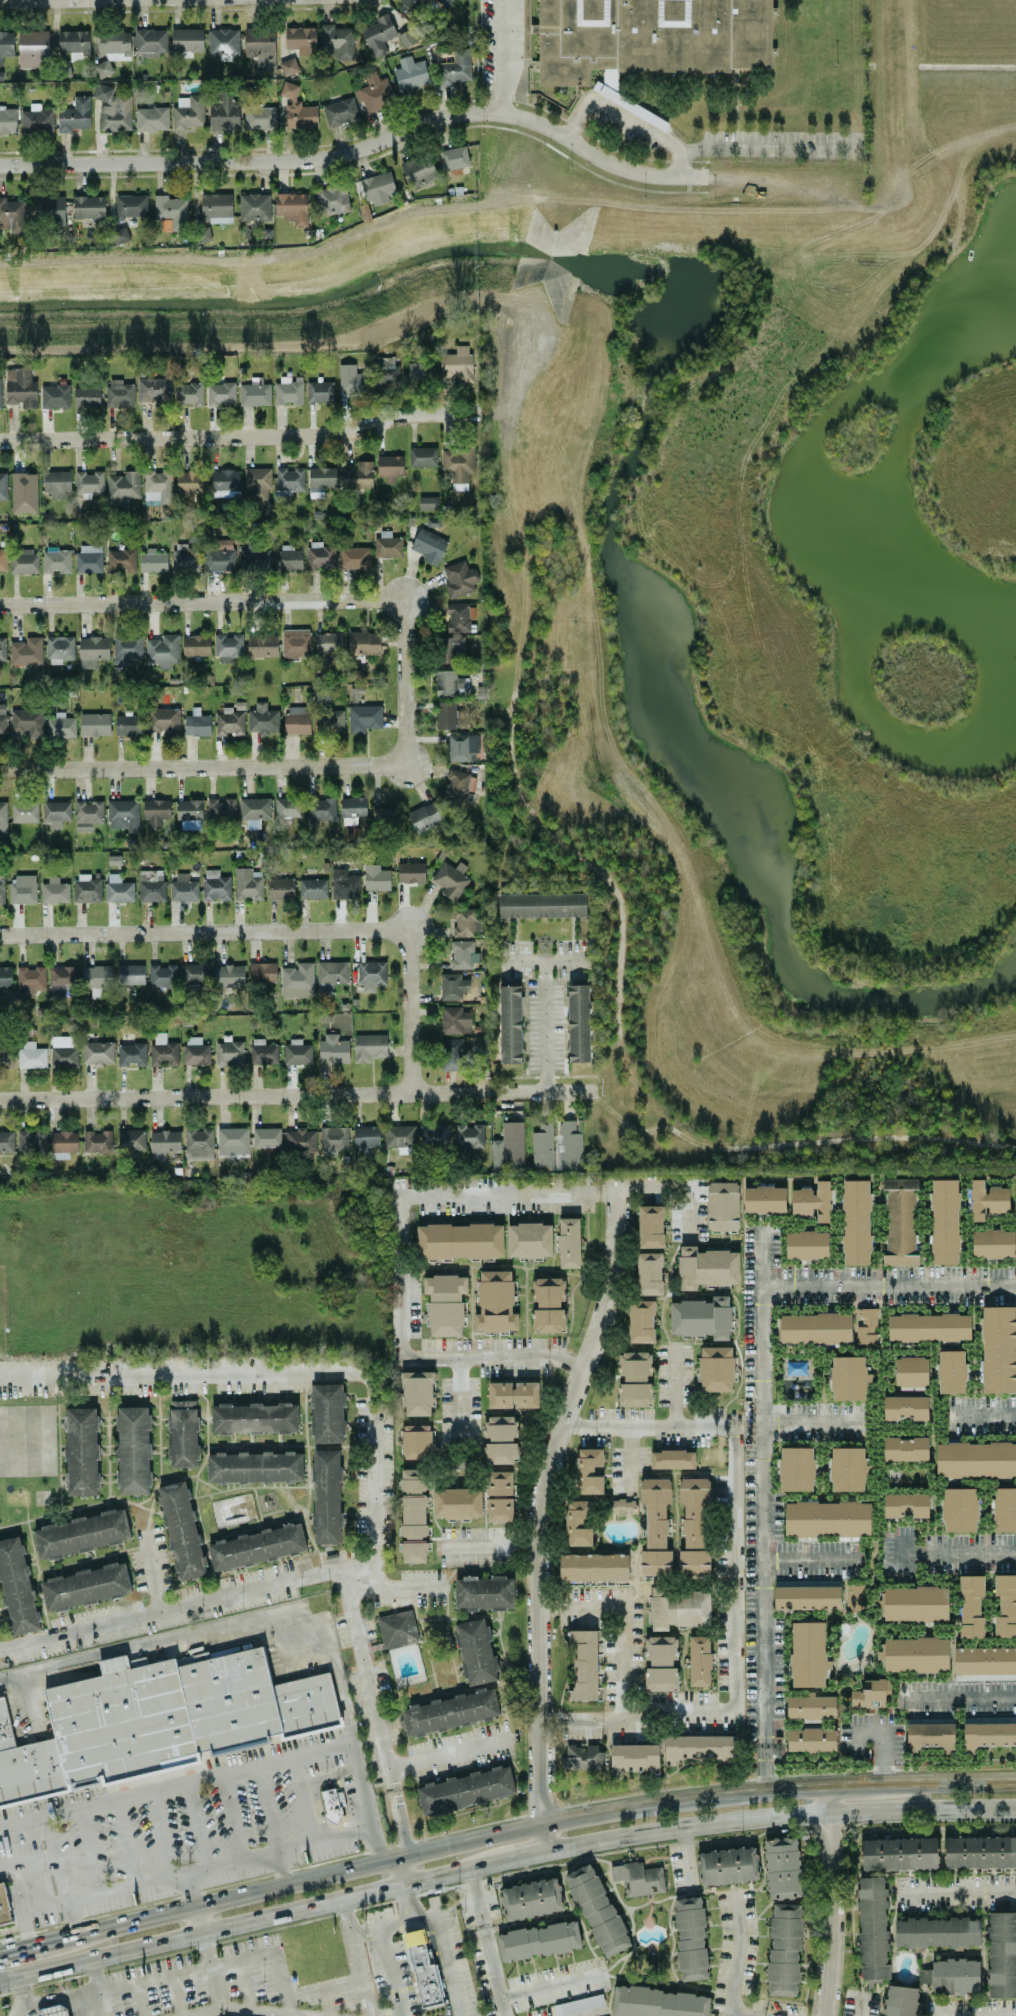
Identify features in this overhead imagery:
road: (21, 0)
building: (377, 34)
building: (406, 38)
building: (301, 40)
building: (646, 40)
building: (150, 41)
building: (186, 41)
building: (337, 42)
building: (74, 43)
building: (223, 43)
building: (6, 44)
building: (115, 46)
building: (33, 47)
building: (260, 47)
road: (501, 56)
building: (288, 66)
building: (103, 68)
building: (454, 68)
building: (410, 73)
building: (374, 92)
road: (736, 107)
building: (298, 108)
building: (113, 109)
building: (340, 111)
building: (188, 112)
building: (224, 113)
building: (74, 115)
road: (626, 117)
building: (259, 118)
building: (151, 119)
building: (8, 120)
building: (36, 121)
road: (772, 147)
road: (362, 148)
building: (454, 158)
building: (418, 170)
building: (378, 188)
building: (332, 199)
building: (131, 206)
building: (88, 207)
building: (254, 207)
building: (49, 208)
building: (216, 208)
building: (292, 208)
building: (171, 213)
building: (12, 215)
building: (457, 364)
building: (416, 369)
building: (386, 371)
building: (352, 379)
building: (20, 387)
building: (288, 389)
building: (154, 391)
building: (319, 391)
building: (119, 393)
building: (188, 393)
building: (255, 393)
building: (220, 394)
building: (0, 396)
building: (55, 396)
building: (87, 397)
road: (242, 437)
building: (422, 456)
building: (458, 465)
building: (389, 467)
building: (357, 475)
building: (320, 480)
building: (289, 481)
building: (89, 482)
building: (191, 482)
building: (56, 483)
building: (225, 483)
building: (257, 484)
building: (3, 486)
building: (157, 487)
building: (123, 488)
building: (24, 492)
building: (427, 503)
building: (387, 546)
building: (428, 546)
building: (219, 555)
building: (320, 555)
building: (89, 558)
building: (253, 558)
building: (287, 558)
building: (354, 558)
building: (2, 559)
building: (120, 559)
building: (185, 560)
building: (24, 561)
building: (56, 561)
building: (153, 561)
building: (458, 579)
road: (231, 603)
building: (457, 617)
building: (363, 643)
building: (295, 644)
building: (196, 645)
building: (261, 645)
building: (228, 647)
building: (326, 647)
building: (126, 648)
building: (450, 648)
building: (2, 649)
building: (59, 649)
building: (26, 651)
building: (92, 651)
building: (162, 651)
building: (448, 683)
building: (444, 715)
building: (364, 718)
building: (262, 719)
building: (296, 719)
building: (2, 720)
building: (162, 720)
building: (329, 721)
building: (27, 722)
building: (229, 722)
building: (196, 723)
building: (94, 724)
building: (128, 725)
building: (60, 726)
building: (462, 747)
road: (257, 768)
building: (288, 807)
building: (254, 808)
building: (220, 809)
building: (352, 809)
building: (24, 811)
building: (320, 811)
building: (56, 812)
building: (156, 812)
building: (189, 813)
building: (88, 814)
building: (123, 814)
building: (424, 816)
building: (385, 817)
building: (3, 818)
building: (410, 872)
building: (375, 877)
building: (450, 879)
building: (247, 884)
building: (345, 884)
building: (215, 885)
building: (182, 887)
building: (87, 888)
building: (280, 888)
building: (312, 888)
building: (2, 889)
building: (23, 889)
building: (118, 889)
building: (54, 891)
building: (151, 891)
building: (542, 905)
building: (463, 922)
road: (288, 930)
road: (547, 950)
building: (462, 955)
building: (262, 973)
building: (130, 974)
building: (195, 974)
building: (331, 974)
building: (371, 974)
building: (62, 975)
building: (162, 976)
building: (228, 976)
building: (96, 977)
building: (5, 978)
building: (30, 979)
building: (297, 981)
building: (452, 986)
building: (455, 1020)
road: (549, 1021)
building: (579, 1023)
building: (510, 1024)
building: (4, 1046)
building: (369, 1047)
building: (333, 1048)
building: (63, 1051)
building: (163, 1051)
building: (195, 1051)
building: (263, 1052)
building: (97, 1053)
building: (229, 1053)
building: (131, 1054)
building: (297, 1054)
building: (450, 1054)
building: (31, 1055)
road: (296, 1095)
building: (399, 1136)
building: (433, 1136)
building: (469, 1136)
building: (232, 1137)
building: (266, 1137)
building: (131, 1139)
building: (365, 1139)
building: (333, 1140)
building: (164, 1141)
building: (299, 1141)
building: (6, 1142)
building: (97, 1142)
building: (31, 1143)
building: (198, 1143)
building: (63, 1144)
building: (570, 1144)
building: (544, 1148)
building: (509, 1149)
road: (675, 1190)
road: (398, 1197)
building: (1014, 1198)
building: (764, 1199)
building: (988, 1200)
building: (812, 1201)
building: (723, 1206)
building: (899, 1221)
building: (944, 1221)
building: (855, 1222)
building: (650, 1226)
building: (529, 1240)
building: (459, 1241)
building: (568, 1242)
building: (992, 1243)
building: (807, 1245)
building: (707, 1267)
building: (649, 1273)
road: (888, 1287)
building: (445, 1303)
building: (495, 1303)
building: (547, 1305)
building: (702, 1317)
building: (641, 1321)
building: (866, 1326)
building: (929, 1327)
building: (815, 1328)
building: (998, 1349)
road: (483, 1357)
building: (716, 1369)
building: (911, 1371)
building: (950, 1371)
building: (635, 1379)
road: (675, 1389)
building: (417, 1393)
building: (513, 1394)
building: (905, 1407)
building: (327, 1413)
road: (983, 1413)
building: (254, 1418)
road: (811, 1419)
building: (183, 1434)
road: (373, 1437)
building: (501, 1439)
building: (416, 1441)
building: (905, 1449)
building: (133, 1450)
building: (81, 1451)
road: (629, 1457)
building: (672, 1459)
building: (975, 1459)
building: (254, 1468)
building: (795, 1469)
building: (847, 1469)
building: (588, 1471)
road: (732, 1482)
building: (326, 1496)
building: (499, 1496)
building: (457, 1503)
building: (905, 1505)
building: (623, 1507)
road: (760, 1507)
building: (959, 1509)
building: (1004, 1509)
road: (541, 1512)
building: (413, 1515)
building: (827, 1518)
building: (578, 1522)
building: (694, 1525)
building: (655, 1526)
building: (181, 1530)
building: (81, 1534)
road: (489, 1545)
building: (257, 1547)
road: (952, 1552)
road: (811, 1558)
building: (594, 1566)
road: (153, 1571)
building: (16, 1587)
building: (85, 1587)
building: (483, 1593)
building: (807, 1594)
road: (221, 1595)
building: (853, 1598)
building: (916, 1603)
building: (1005, 1605)
building: (971, 1606)
building: (678, 1608)
road: (281, 1609)
road: (623, 1617)
building: (397, 1629)
building: (475, 1651)
building: (808, 1654)
building: (916, 1654)
building: (699, 1660)
building: (984, 1660)
building: (661, 1663)
building: (584, 1664)
building: (868, 1693)
road: (959, 1696)
road: (26, 1705)
building: (811, 1706)
building: (450, 1712)
road: (635, 1714)
building: (157, 1720)
building: (930, 1735)
building: (988, 1735)
building: (811, 1739)
road: (884, 1743)
building: (698, 1747)
road: (448, 1754)
building: (582, 1757)
building: (634, 1758)
road: (176, 1784)
road: (315, 1787)
building: (465, 1790)
road: (302, 1799)
building: (332, 1804)
road: (268, 1807)
road: (231, 1816)
road: (779, 1817)
road: (196, 1824)
road: (524, 1828)
road: (160, 1833)
road: (126, 1841)
road: (88, 1851)
building: (980, 1852)
road: (683, 1853)
building: (899, 1853)
road: (522, 1855)
road: (27, 1862)
building: (728, 1866)
road: (283, 1867)
road: (197, 1868)
building: (782, 1868)
road: (400, 1872)
road: (61, 1876)
building: (638, 1878)
road: (189, 1889)
road: (955, 1891)
building: (531, 1899)
road: (831, 1901)
road: (408, 1902)
building: (4, 1906)
road: (20, 1906)
building: (597, 1910)
road: (199, 1920)
road: (249, 1922)
road: (392, 1923)
building: (873, 1928)
building: (938, 1932)
building: (690, 1938)
building: (538, 1940)
road: (488, 1942)
road: (21, 1949)
building: (784, 1949)
road: (737, 1952)
building: (1001, 1955)
road: (356, 1958)
road: (447, 1965)
building: (423, 1968)
road: (212, 1970)
road: (390, 1971)
road: (186, 1972)
building: (955, 1975)
road: (282, 1982)
road: (245, 1984)
road: (552, 1985)
road: (97, 1988)
road: (324, 1988)
road: (22, 1991)
road: (178, 1996)
road: (55, 1998)
road: (139, 2001)
building: (901, 2001)
road: (326, 2002)
building: (659, 2002)
road: (862, 2003)
building: (579, 2005)
road: (244, 2008)
building: (52, 2011)
road: (746, 2013)
road: (597, 2014)
road: (972, 2015)

